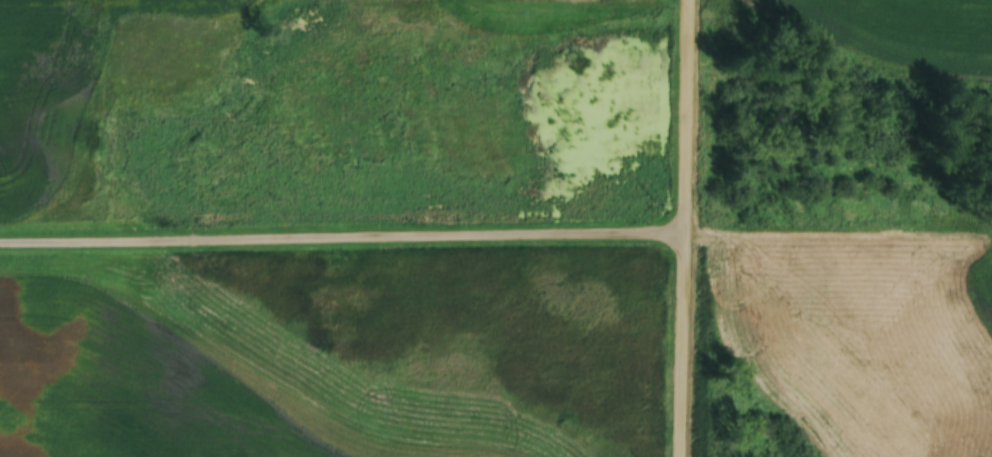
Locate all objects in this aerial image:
road: (683, 228)
road: (342, 235)

